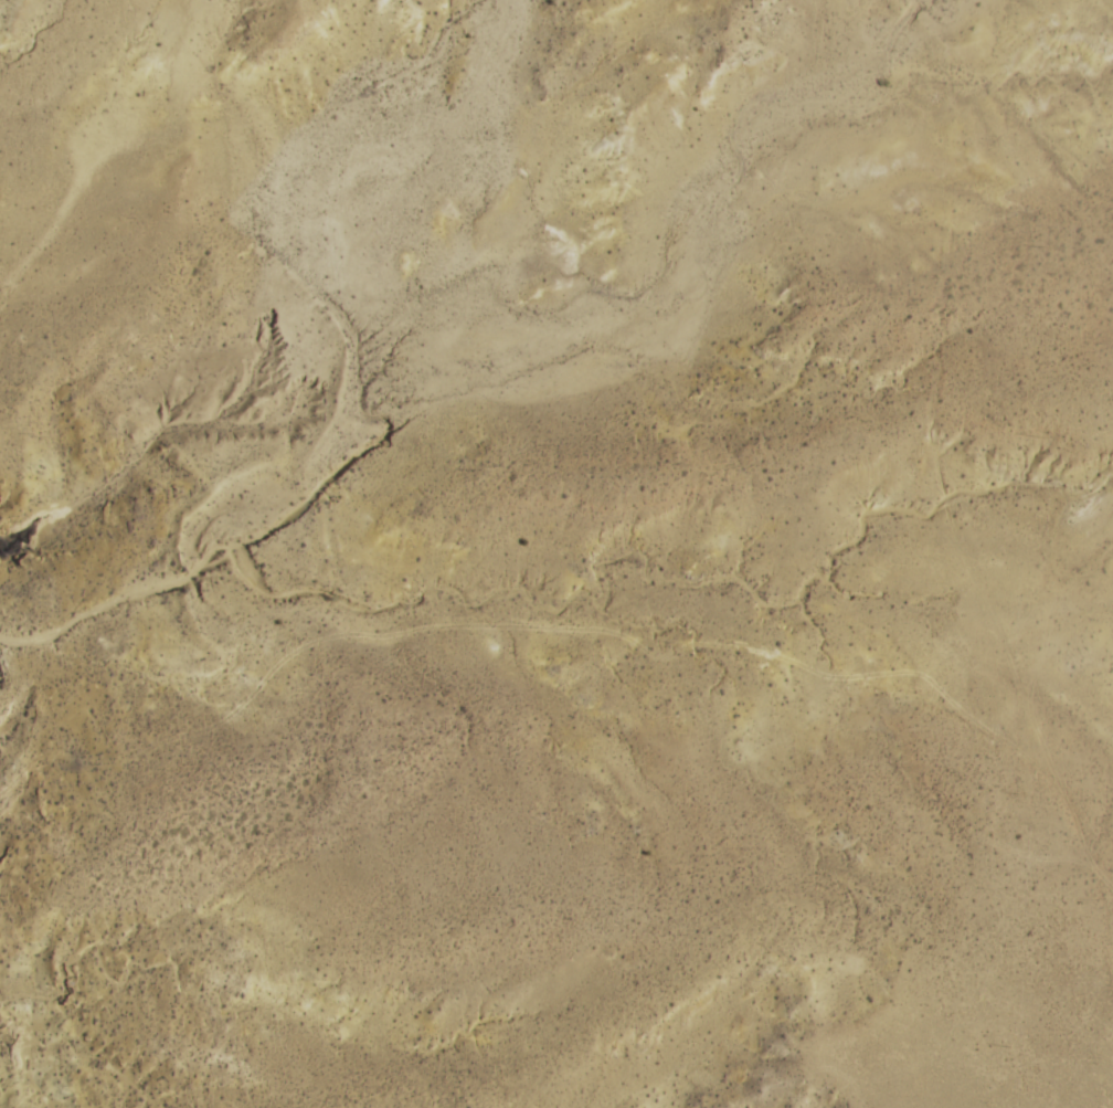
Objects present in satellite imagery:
road: (138, 82)
river: (94, 463)

